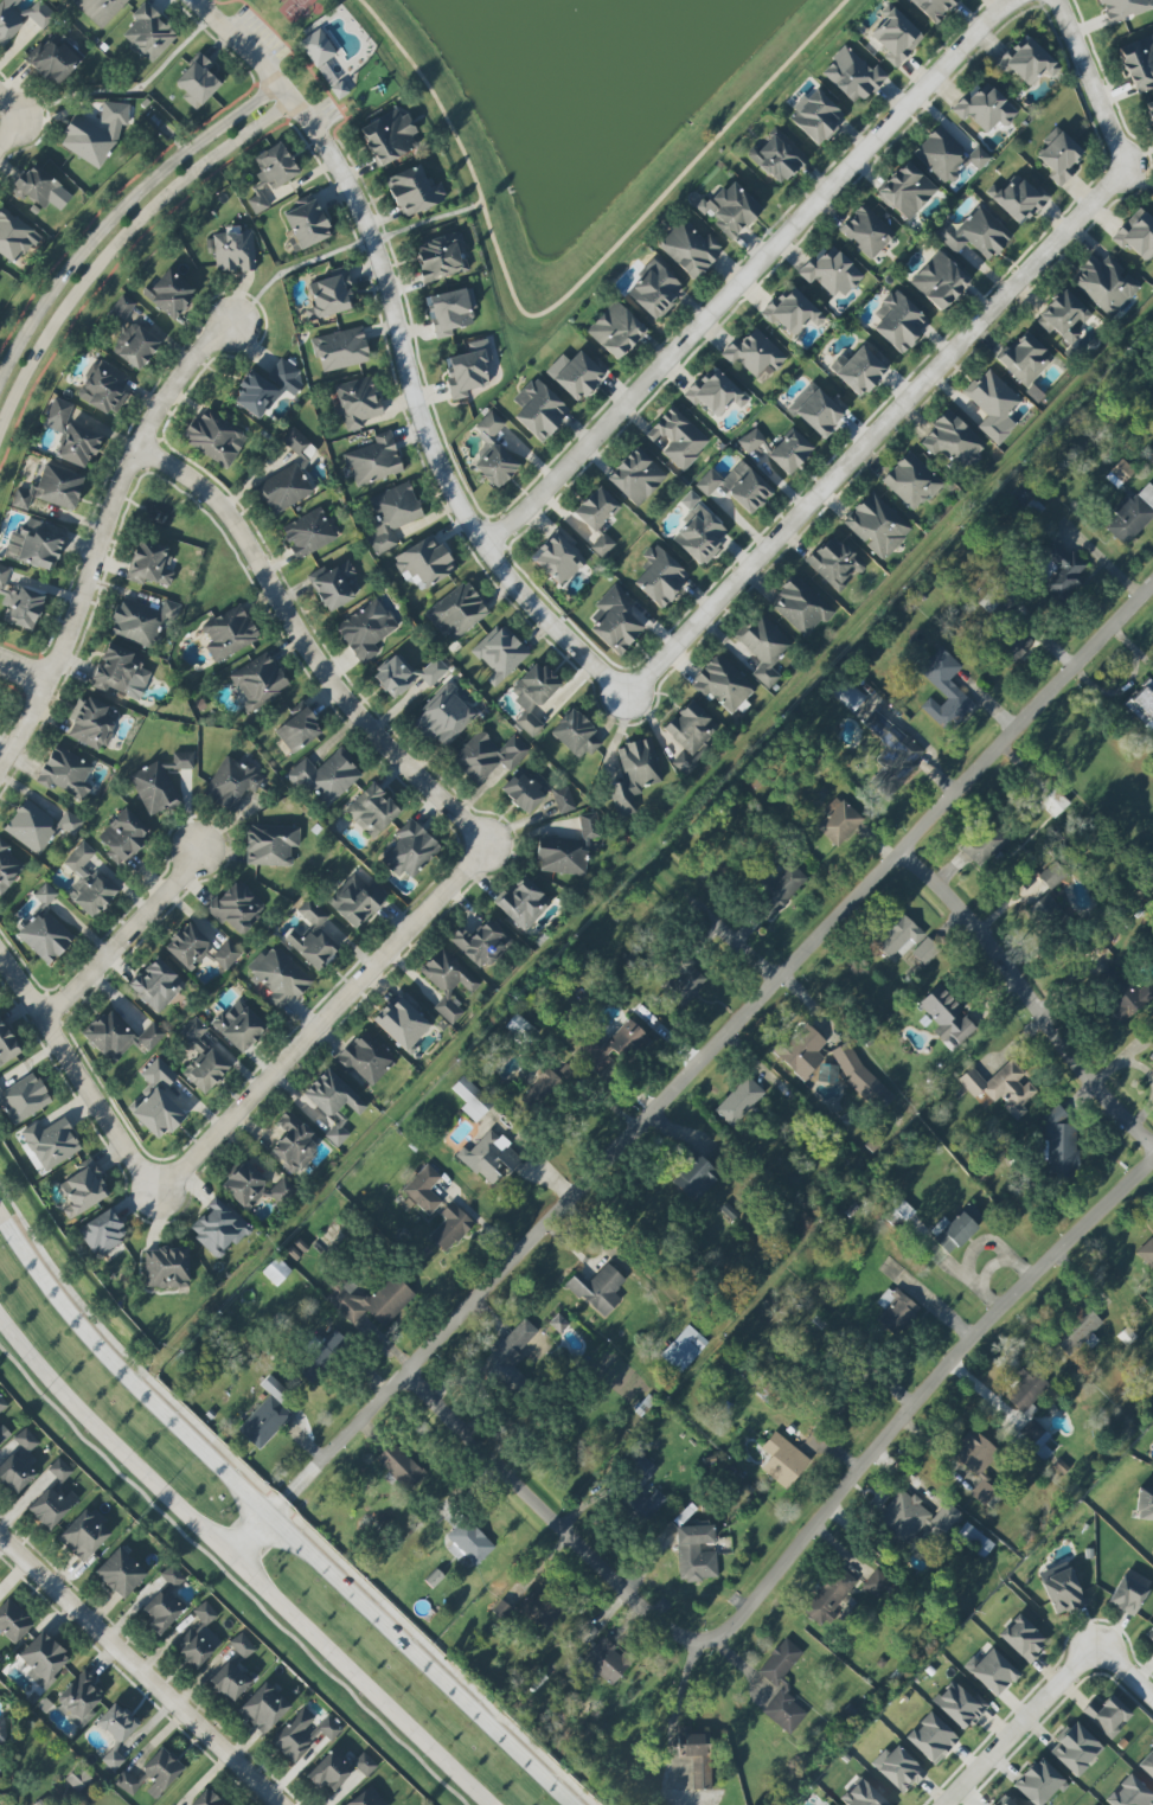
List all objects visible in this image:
park: (262, 4)
building: (935, 8)
building: (1125, 8)
building: (100, 9)
building: (21, 18)
building: (149, 33)
building: (896, 37)
parking lot: (257, 38)
road: (290, 45)
building: (318, 47)
building: (56, 59)
building: (1027, 62)
building: (1139, 63)
building: (852, 76)
building: (197, 82)
building: (340, 89)
road: (434, 94)
road: (1097, 94)
road: (6, 102)
building: (985, 107)
building: (1149, 110)
parking lot: (325, 116)
building: (815, 116)
road: (345, 122)
road: (8, 129)
building: (95, 134)
building: (389, 136)
building: (947, 155)
building: (1059, 155)
building: (777, 158)
building: (270, 175)
building: (41, 188)
building: (907, 190)
building: (414, 191)
building: (1018, 199)
road: (649, 210)
building: (729, 210)
road: (120, 216)
building: (306, 225)
building: (867, 231)
building: (974, 233)
building: (1136, 235)
building: (15, 237)
road: (120, 243)
road: (363, 244)
building: (690, 249)
building: (232, 251)
building: (441, 257)
road: (750, 273)
building: (831, 273)
building: (940, 281)
building: (1104, 284)
building: (654, 290)
building: (169, 293)
building: (331, 295)
building: (451, 311)
building: (792, 311)
building: (1063, 318)
building: (898, 321)
building: (615, 331)
building: (130, 337)
road: (403, 345)
building: (341, 350)
building: (755, 353)
building: (1025, 359)
building: (467, 369)
building: (859, 369)
building: (286, 376)
building: (579, 376)
building: (104, 388)
building: (715, 392)
building: (1033, 393)
building: (255, 395)
building: (358, 402)
building: (993, 404)
building: (539, 409)
building: (816, 410)
building: (489, 425)
building: (71, 435)
building: (214, 437)
building: (678, 437)
building: (750, 441)
building: (953, 441)
road: (867, 443)
building: (299, 447)
building: (789, 452)
building: (374, 460)
building: (1151, 460)
building: (495, 466)
building: (636, 476)
building: (911, 481)
building: (737, 486)
building: (52, 488)
road: (120, 488)
building: (283, 489)
building: (1027, 501)
building: (596, 508)
building: (391, 516)
building: (1132, 516)
building: (877, 525)
building: (699, 531)
building: (308, 533)
building: (37, 544)
building: (602, 545)
building: (558, 559)
building: (424, 562)
building: (835, 562)
building: (149, 564)
building: (1058, 569)
building: (660, 576)
building: (335, 585)
building: (998, 601)
building: (20, 603)
building: (801, 606)
building: (457, 612)
building: (141, 621)
building: (615, 621)
building: (366, 629)
building: (229, 633)
road: (305, 645)
building: (763, 647)
building: (1017, 647)
building: (499, 653)
building: (120, 671)
road: (24, 673)
building: (406, 674)
building: (258, 683)
building: (723, 684)
building: (944, 690)
building: (533, 696)
building: (851, 698)
building: (1142, 704)
building: (444, 717)
building: (91, 723)
road: (26, 729)
building: (299, 730)
building: (575, 734)
building: (692, 734)
building: (892, 754)
building: (487, 756)
building: (66, 773)
building: (634, 775)
building: (326, 777)
building: (160, 783)
building: (231, 783)
building: (524, 792)
building: (563, 800)
building: (1053, 802)
building: (372, 811)
building: (838, 821)
building: (39, 826)
building: (122, 836)
building: (984, 843)
building: (270, 844)
building: (410, 850)
building: (568, 850)
building: (8, 868)
building: (1052, 875)
building: (89, 883)
building: (777, 888)
building: (45, 894)
building: (355, 901)
building: (524, 903)
building: (236, 908)
building: (1045, 908)
road: (726, 934)
building: (897, 935)
building: (45, 936)
building: (312, 936)
road: (126, 941)
building: (481, 943)
building: (200, 949)
building: (925, 950)
building: (278, 977)
building: (686, 978)
building: (449, 981)
building: (156, 985)
building: (1126, 998)
road: (1026, 1000)
building: (947, 1017)
building: (239, 1026)
road: (320, 1026)
building: (523, 1028)
building: (1149, 1028)
building: (118, 1036)
building: (7, 1045)
building: (614, 1046)
building: (801, 1050)
building: (1151, 1057)
building: (365, 1058)
building: (203, 1060)
road: (71, 1062)
road: (691, 1069)
building: (159, 1073)
building: (857, 1074)
building: (828, 1075)
building: (1001, 1087)
building: (543, 1089)
building: (332, 1095)
building: (24, 1099)
building: (472, 1099)
building: (739, 1101)
building: (158, 1113)
building: (337, 1135)
building: (51, 1142)
building: (293, 1144)
building: (1059, 1144)
building: (489, 1157)
building: (693, 1176)
building: (255, 1188)
building: (83, 1189)
building: (423, 1189)
building: (218, 1227)
building: (450, 1227)
building: (956, 1228)
building: (102, 1233)
building: (1147, 1253)
building: (166, 1268)
building: (276, 1270)
road: (57, 1289)
building: (598, 1289)
building: (370, 1299)
building: (895, 1310)
building: (1077, 1330)
building: (684, 1349)
building: (322, 1357)
building: (508, 1358)
building: (1027, 1388)
building: (275, 1389)
road: (924, 1396)
building: (2, 1404)
building: (264, 1422)
building: (2, 1435)
building: (1036, 1440)
building: (783, 1460)
building: (976, 1461)
building: (19, 1462)
building: (399, 1466)
building: (59, 1470)
building: (636, 1487)
building: (1144, 1504)
building: (51, 1508)
building: (915, 1518)
road: (551, 1519)
building: (84, 1535)
building: (974, 1540)
building: (469, 1542)
building: (696, 1553)
road: (239, 1567)
building: (120, 1573)
building: (172, 1576)
building: (878, 1583)
road: (342, 1585)
building: (1062, 1589)
building: (829, 1595)
building: (1127, 1595)
building: (540, 1609)
building: (161, 1612)
building: (13, 1622)
building: (1149, 1634)
building: (198, 1637)
building: (1023, 1638)
building: (242, 1646)
building: (44, 1659)
building: (607, 1660)
road: (1125, 1670)
building: (992, 1671)
road: (140, 1673)
building: (230, 1681)
building: (782, 1686)
building: (79, 1700)
building: (959, 1704)
road: (677, 1705)
building: (263, 1708)
building: (1106, 1715)
road: (1019, 1723)
building: (116, 1732)
building: (302, 1734)
building: (931, 1737)
building: (1075, 1749)
building: (696, 1754)
building: (1147, 1765)
building: (338, 1769)
building: (901, 1769)
building: (152, 1775)
building: (77, 1779)
building: (1039, 1782)
building: (1129, 1793)
building: (198, 1804)

